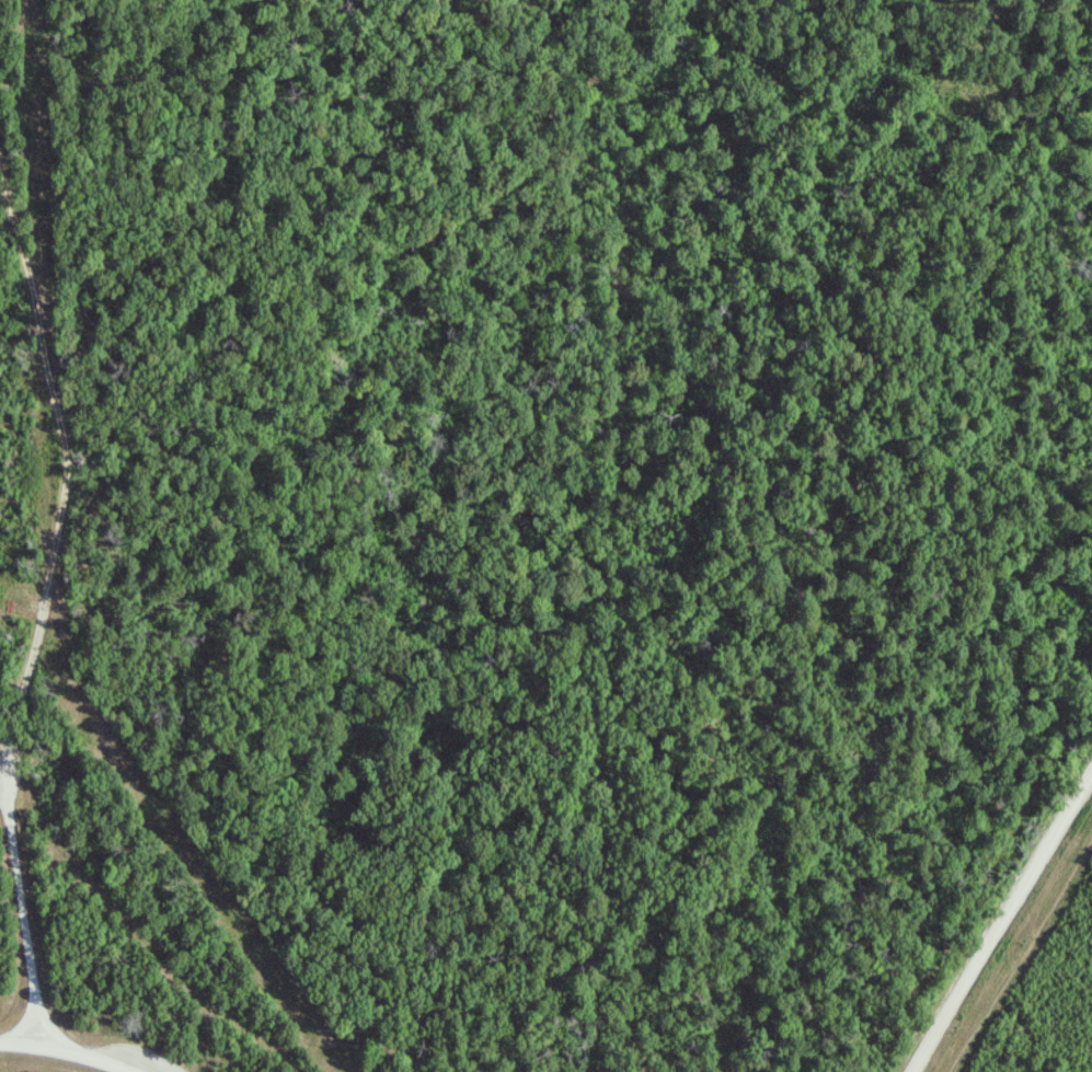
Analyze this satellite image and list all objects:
road: (41, 619)
road: (1003, 920)
road: (60, 1052)

